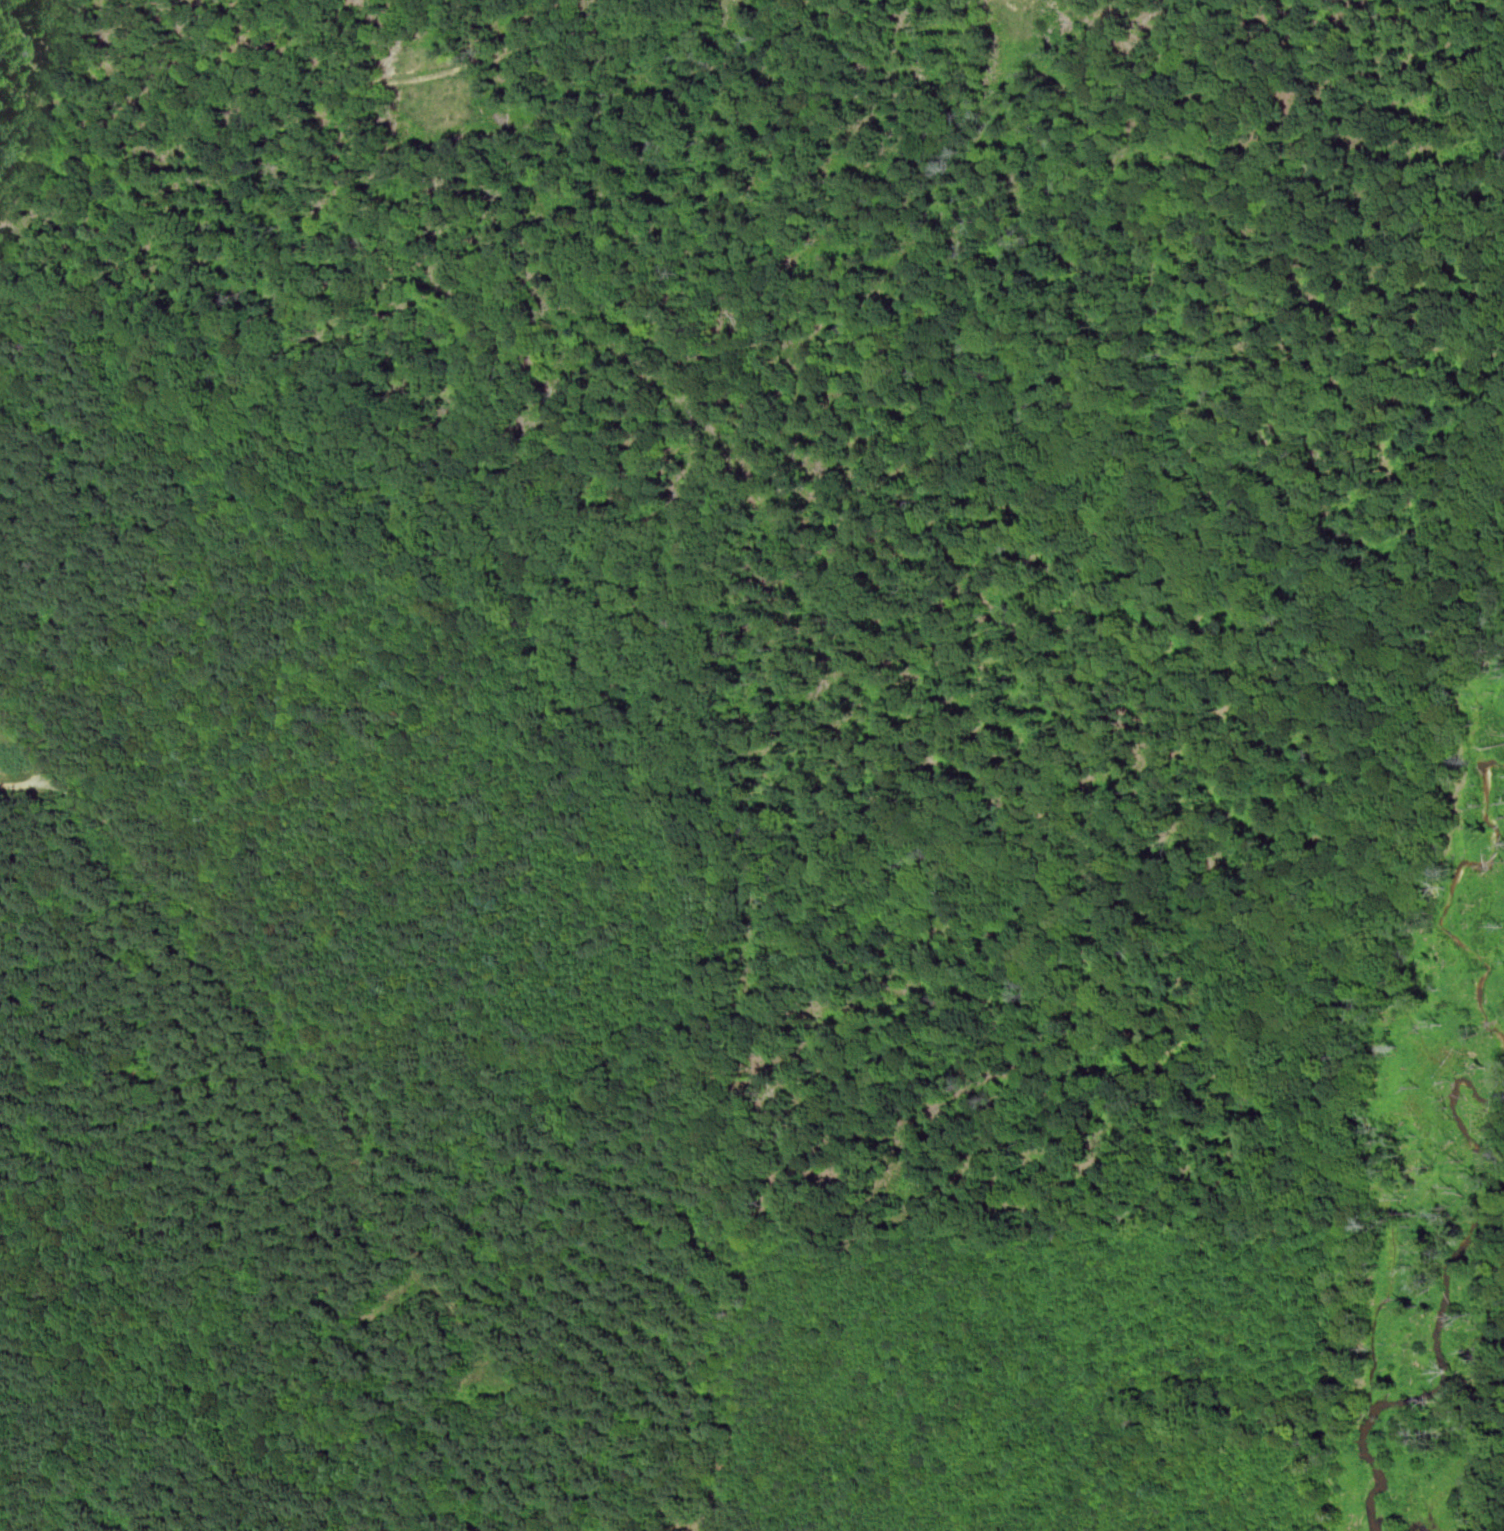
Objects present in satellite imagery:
road: (353, 1119)

